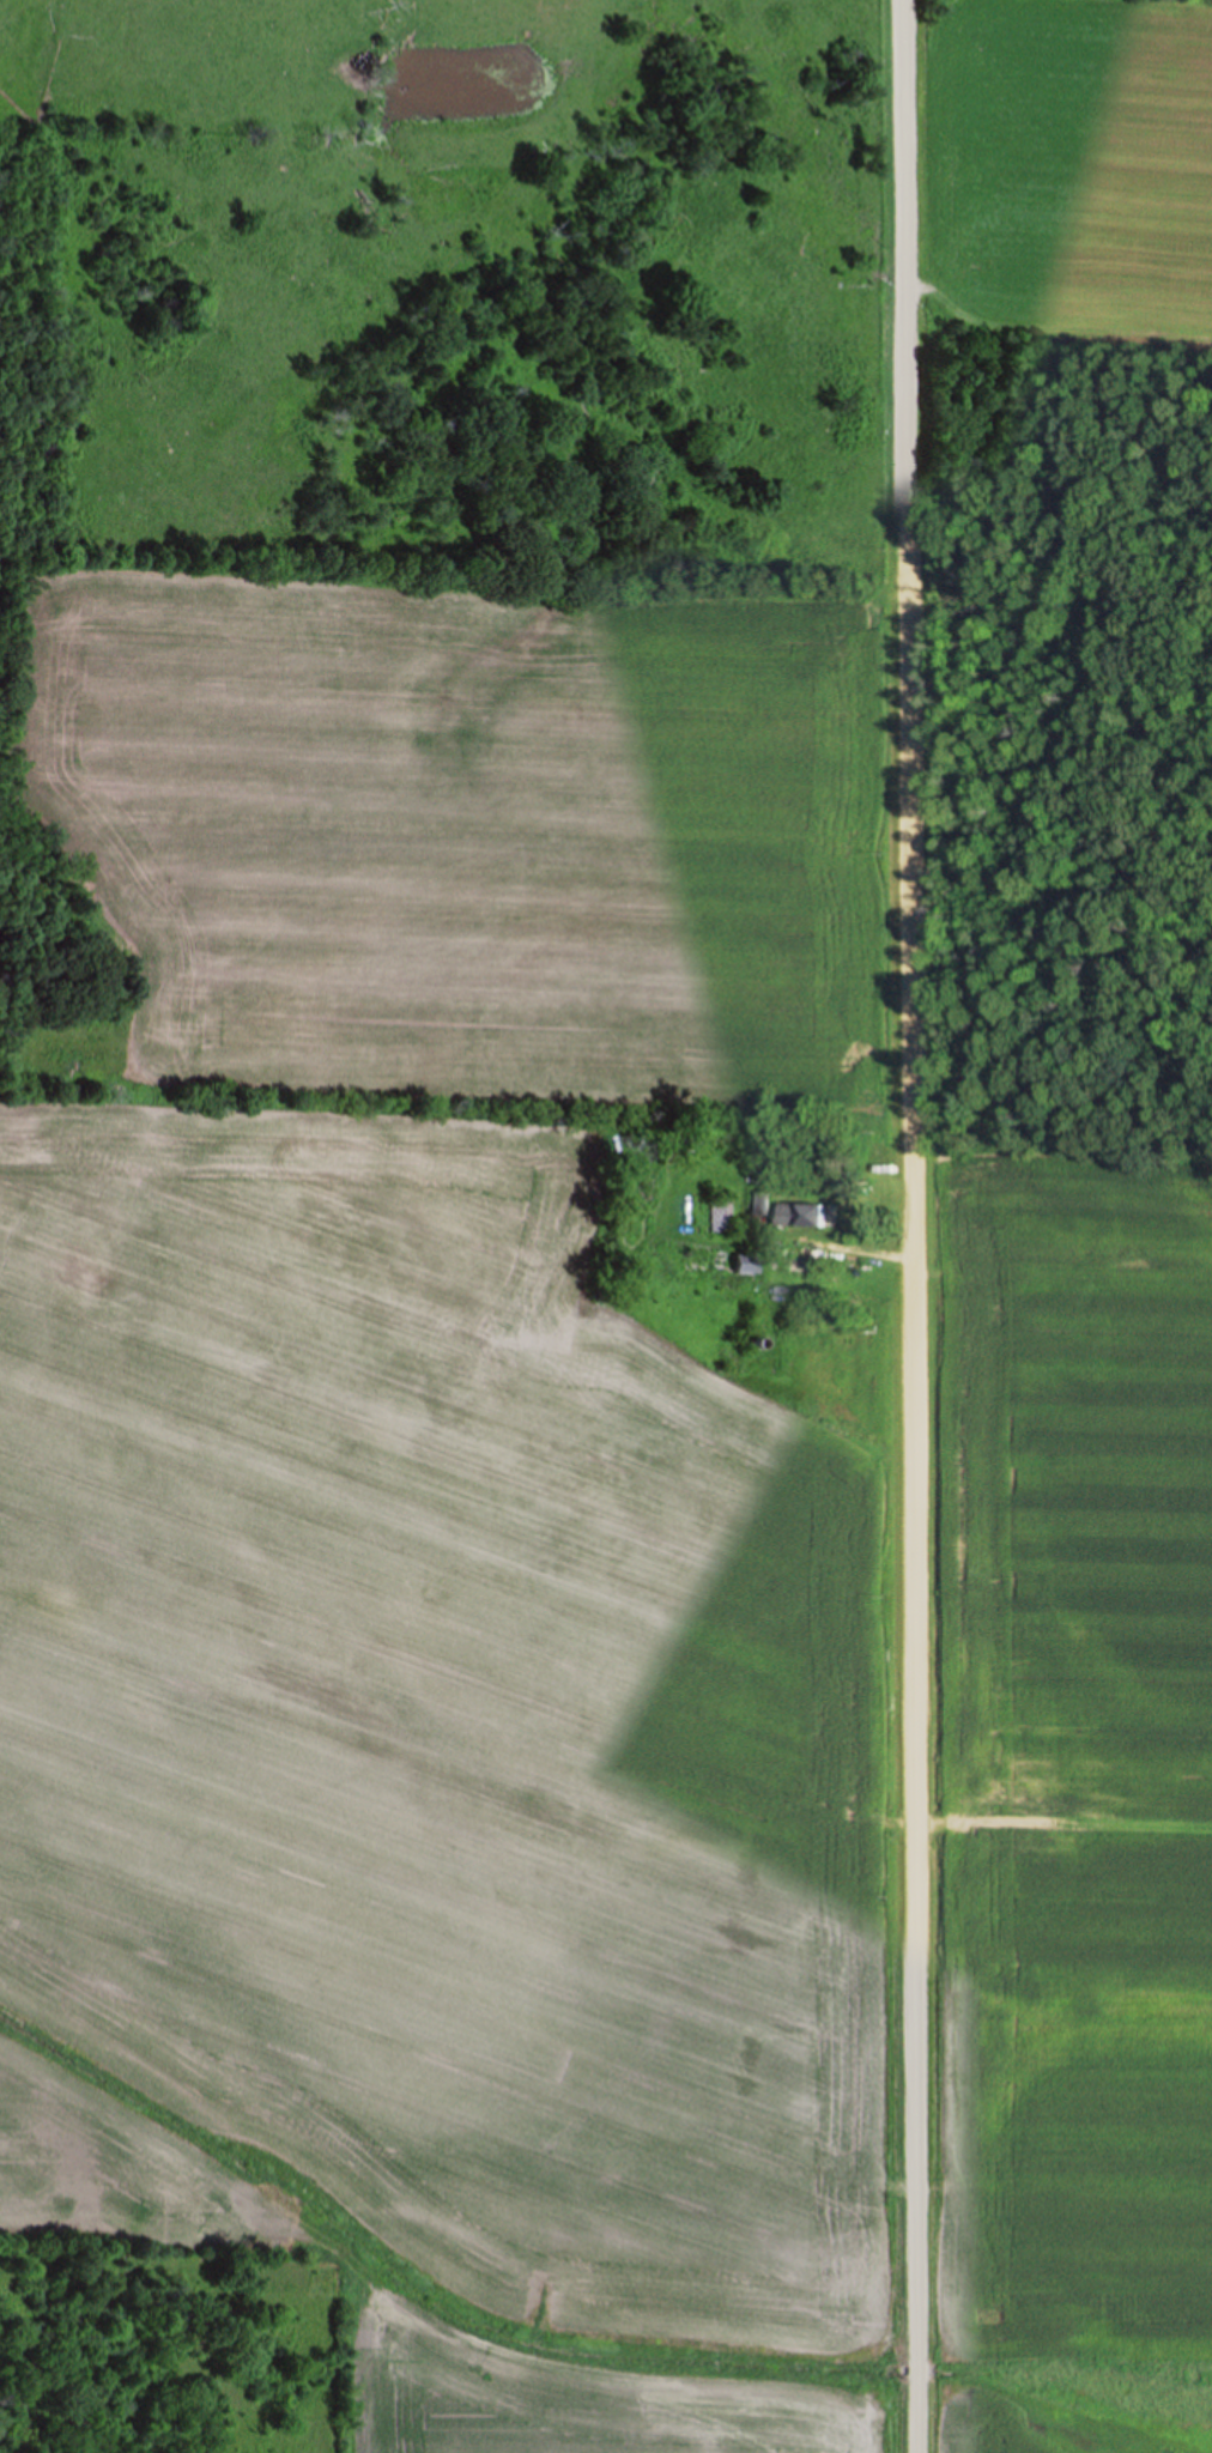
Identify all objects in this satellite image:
building: (759, 1205)
building: (717, 1216)
building: (804, 1216)
road: (915, 1226)
building: (738, 1265)
building: (764, 1302)

